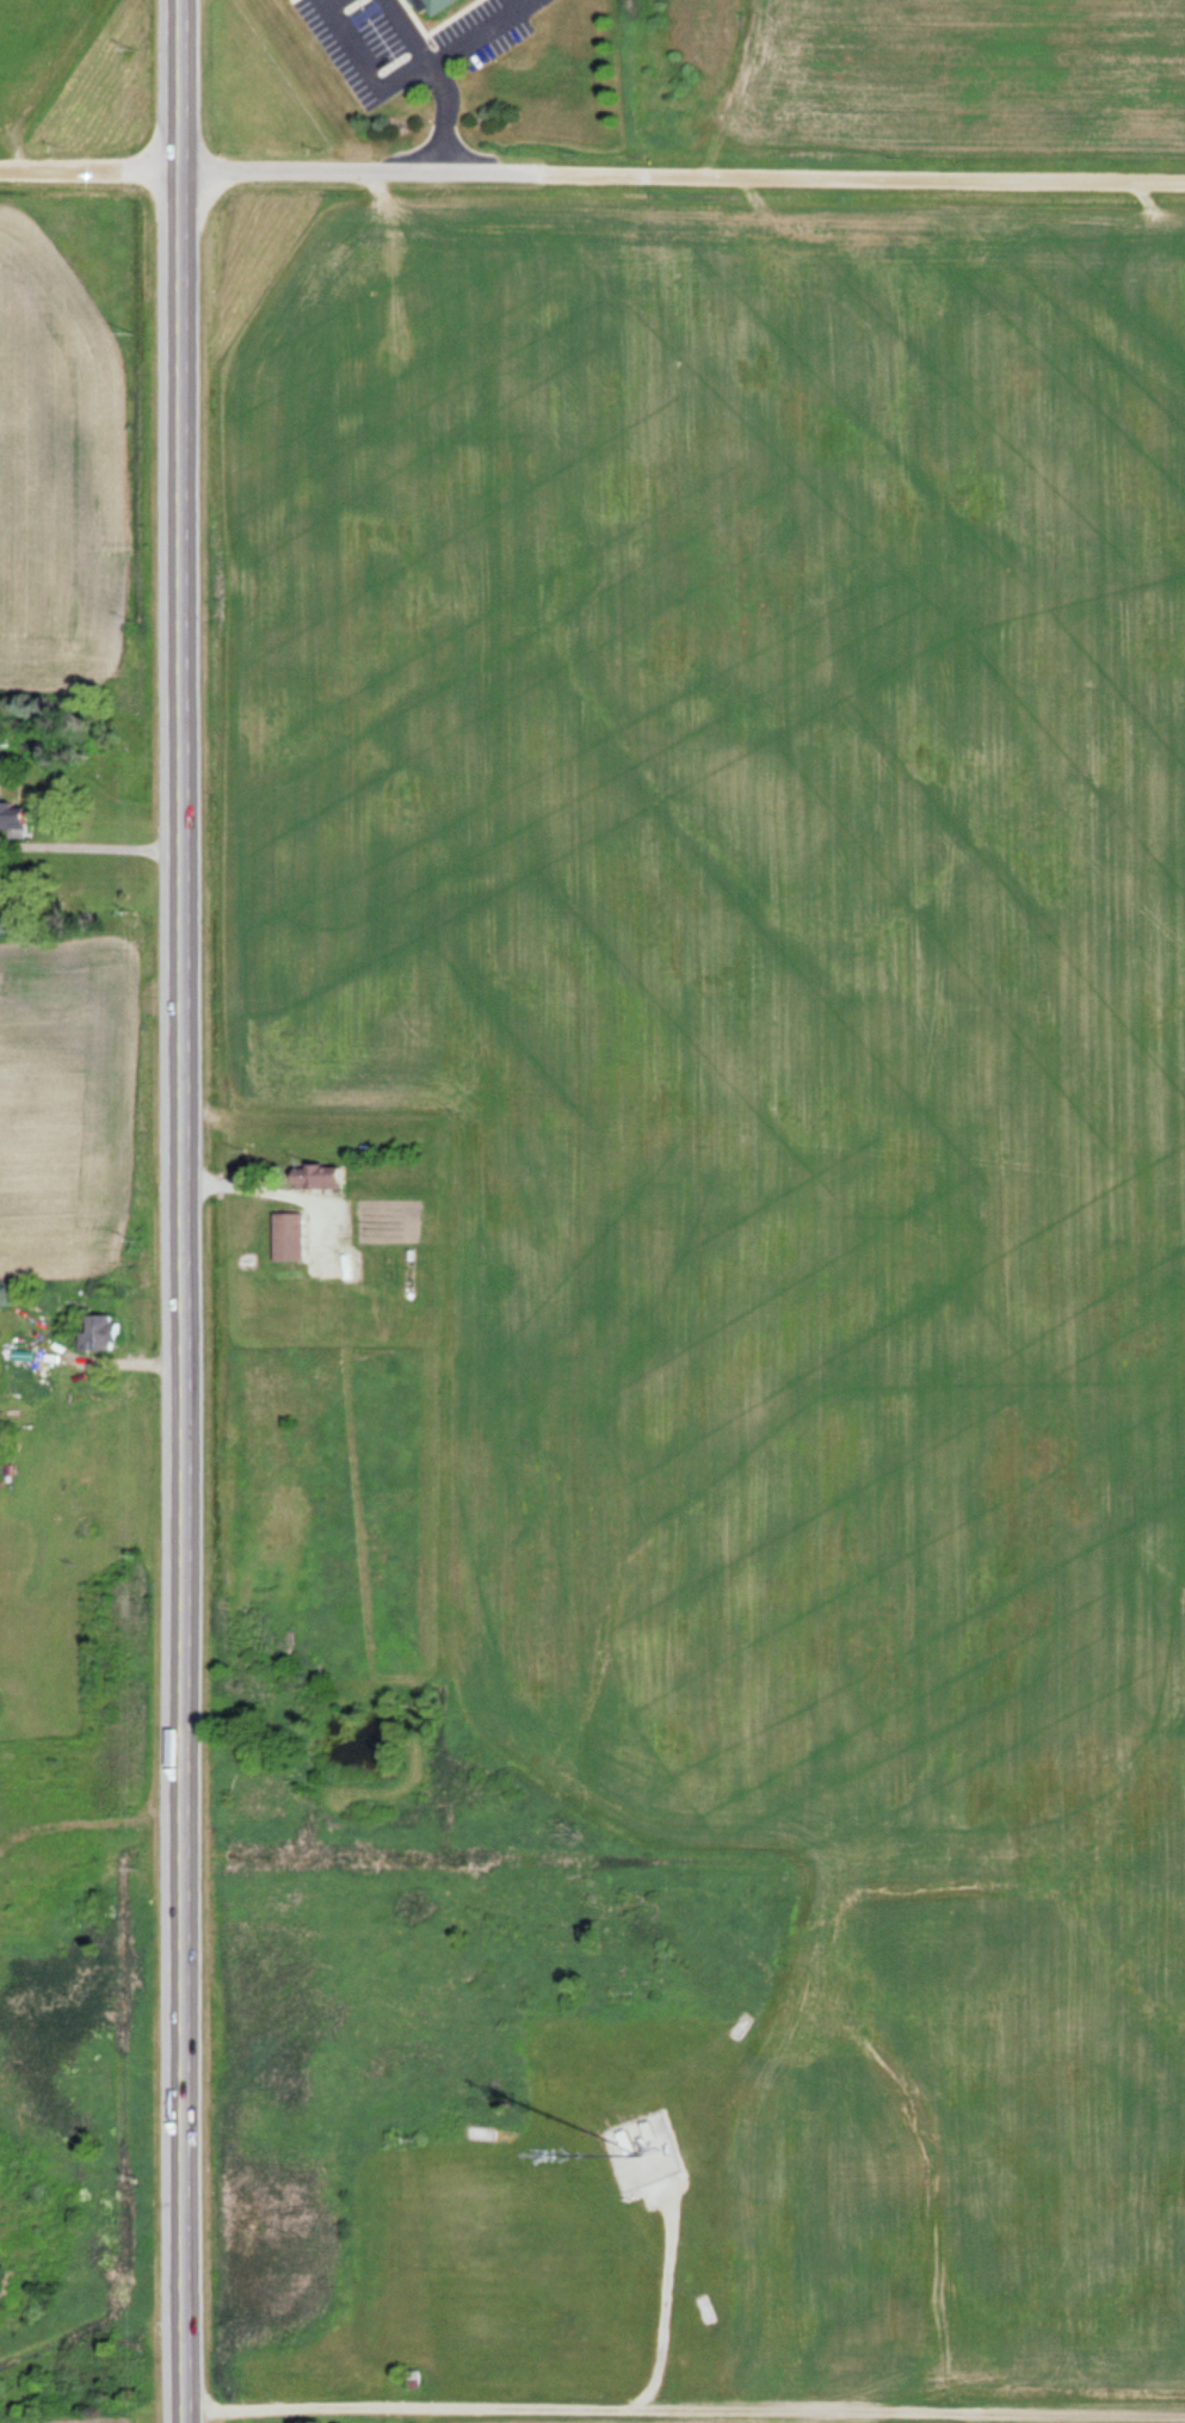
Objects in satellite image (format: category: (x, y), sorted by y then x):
road: (523, 2)
road: (529, 2)
building: (428, 5)
parking lot: (413, 43)
road: (348, 47)
road: (452, 49)
road: (438, 78)
road: (92, 166)
road: (684, 175)
building: (13, 819)
building: (310, 1174)
road: (179, 1211)
building: (285, 1237)
building: (95, 1333)
road: (684, 2411)

